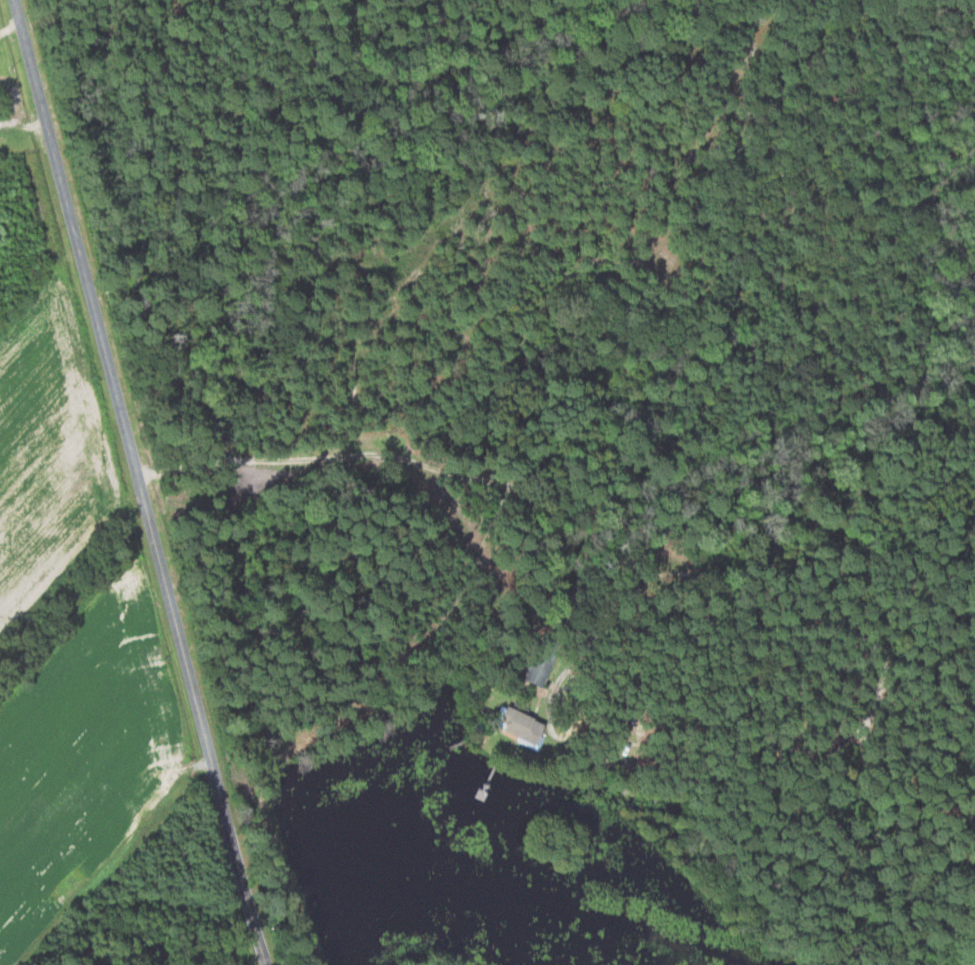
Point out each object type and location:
road: (337, 456)
road: (137, 482)
building: (531, 673)
building: (513, 726)

